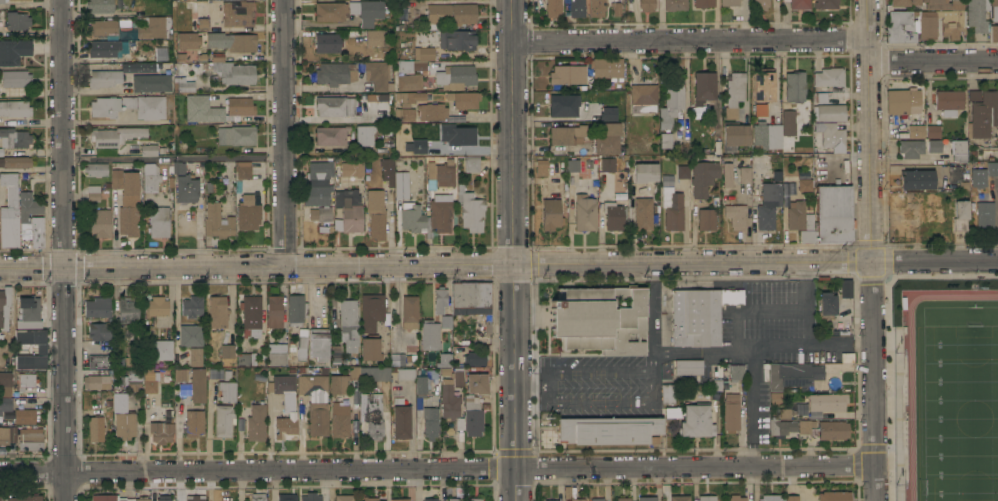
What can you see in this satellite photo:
building: (2, 2)
building: (730, 2)
building: (904, 2)
building: (703, 3)
building: (760, 4)
building: (799, 4)
building: (825, 4)
building: (647, 5)
building: (675, 5)
building: (943, 5)
building: (100, 6)
building: (367, 8)
building: (553, 8)
building: (577, 8)
building: (597, 8)
building: (616, 8)
building: (330, 11)
building: (994, 11)
building: (237, 13)
building: (451, 13)
building: (977, 15)
building: (17, 21)
building: (200, 22)
building: (953, 24)
building: (927, 25)
building: (102, 27)
building: (154, 27)
building: (899, 27)
building: (994, 33)
building: (377, 37)
building: (187, 40)
building: (457, 40)
road: (689, 40)
building: (232, 41)
building: (328, 42)
building: (111, 48)
building: (14, 51)
building: (160, 53)
building: (186, 53)
building: (423, 53)
building: (198, 57)
road: (933, 61)
building: (410, 65)
building: (96, 67)
building: (134, 67)
building: (608, 68)
building: (335, 73)
building: (568, 74)
building: (378, 75)
building: (455, 76)
building: (16, 78)
building: (104, 78)
building: (830, 78)
building: (237, 79)
building: (151, 82)
building: (410, 82)
building: (762, 86)
building: (795, 86)
building: (704, 87)
road: (321, 88)
building: (734, 94)
building: (974, 95)
building: (409, 97)
building: (643, 98)
building: (671, 99)
building: (465, 100)
building: (949, 101)
building: (904, 103)
building: (563, 104)
building: (105, 106)
building: (146, 106)
building: (240, 106)
building: (335, 106)
building: (15, 108)
building: (202, 109)
building: (432, 111)
building: (831, 112)
building: (608, 113)
building: (405, 114)
building: (982, 115)
road: (102, 122)
building: (787, 122)
building: (916, 130)
building: (933, 131)
road: (869, 133)
building: (364, 134)
building: (457, 134)
building: (115, 135)
building: (236, 135)
road: (285, 135)
building: (331, 135)
building: (567, 135)
building: (736, 135)
building: (766, 135)
building: (831, 136)
building: (14, 138)
building: (607, 139)
building: (665, 140)
building: (934, 146)
building: (414, 147)
building: (955, 149)
building: (148, 150)
building: (910, 150)
building: (2, 152)
road: (174, 156)
building: (15, 162)
building: (471, 164)
building: (541, 164)
building: (608, 164)
building: (572, 165)
building: (176, 167)
building: (991, 168)
building: (95, 169)
building: (243, 169)
building: (352, 169)
building: (388, 170)
building: (683, 171)
building: (320, 172)
building: (440, 174)
building: (645, 174)
building: (727, 174)
building: (954, 174)
building: (745, 175)
building: (150, 177)
building: (703, 177)
building: (976, 178)
building: (916, 179)
building: (401, 185)
building: (804, 185)
building: (186, 189)
building: (93, 192)
building: (316, 195)
building: (906, 197)
building: (127, 201)
building: (768, 205)
building: (28, 206)
building: (672, 208)
building: (470, 209)
building: (348, 210)
building: (584, 212)
building: (983, 212)
building: (248, 213)
building: (644, 213)
building: (320, 214)
building: (376, 214)
building: (551, 214)
building: (833, 214)
building: (10, 215)
building: (736, 215)
building: (795, 215)
building: (959, 215)
building: (426, 216)
building: (613, 216)
building: (937, 217)
building: (706, 219)
building: (159, 221)
building: (100, 223)
building: (217, 223)
building: (323, 226)
building: (807, 229)
building: (33, 232)
road: (64, 250)
road: (514, 250)
road: (934, 267)
road: (692, 268)
road: (399, 270)
road: (142, 271)
street lamp: (971, 272)
street lamp: (894, 274)
road: (852, 278)
street lamp: (972, 285)
building: (844, 288)
building: (440, 299)
building: (472, 299)
street lamp: (884, 302)
building: (826, 305)
building: (156, 306)
building: (191, 306)
road: (397, 306)
building: (4, 307)
building: (97, 307)
building: (296, 309)
building: (127, 310)
building: (274, 311)
building: (372, 311)
road: (650, 311)
road: (751, 311)
building: (217, 312)
building: (29, 313)
building: (699, 315)
building: (251, 316)
building: (409, 319)
building: (599, 319)
building: (446, 321)
building: (349, 325)
building: (99, 331)
road: (886, 333)
building: (190, 335)
building: (430, 335)
road: (806, 339)
building: (302, 344)
building: (319, 345)
building: (370, 347)
road: (780, 348)
building: (41, 349)
building: (159, 349)
building: (227, 351)
street lamp: (893, 352)
building: (134, 354)
building: (276, 354)
building: (335, 354)
building: (196, 356)
building: (405, 357)
building: (847, 357)
building: (474, 358)
building: (246, 359)
building: (444, 360)
building: (97, 361)
building: (688, 367)
building: (354, 368)
building: (734, 371)
road: (630, 372)
building: (181, 374)
building: (405, 374)
building: (799, 374)
building: (457, 376)
building: (132, 379)
building: (98, 380)
building: (26, 381)
building: (150, 383)
building: (477, 383)
building: (5, 384)
building: (338, 384)
road: (873, 384)
building: (198, 385)
building: (223, 386)
building: (185, 389)
building: (665, 394)
track: (952, 396)
building: (776, 398)
road: (754, 399)
building: (449, 400)
building: (826, 401)
building: (315, 402)
building: (426, 403)
building: (429, 403)
building: (5, 404)
road: (604, 404)
building: (286, 406)
building: (800, 408)
building: (731, 412)
building: (783, 413)
park: (958, 413)
building: (371, 414)
building: (24, 416)
building: (472, 416)
building: (123, 417)
building: (339, 419)
building: (223, 420)
building: (696, 421)
building: (194, 422)
building: (256, 422)
building: (401, 422)
building: (781, 427)
building: (804, 427)
building: (95, 429)
building: (608, 430)
building: (833, 430)
building: (161, 432)
building: (7, 434)
building: (31, 441)
road: (854, 463)
road: (437, 471)
street lamp: (886, 475)
street lamp: (894, 485)
building: (571, 493)
building: (834, 496)
building: (258, 497)
building: (286, 497)
building: (310, 497)
building: (736, 497)
building: (771, 497)
building: (24, 498)
building: (116, 498)
building: (163, 498)
building: (195, 498)
building: (344, 498)
building: (372, 498)
building: (679, 498)
building: (706, 498)
building: (791, 498)
building: (400, 499)
building: (430, 499)
building: (453, 499)
building: (475, 499)
building: (597, 499)
building: (623, 499)
building: (647, 499)
building: (550, 500)

